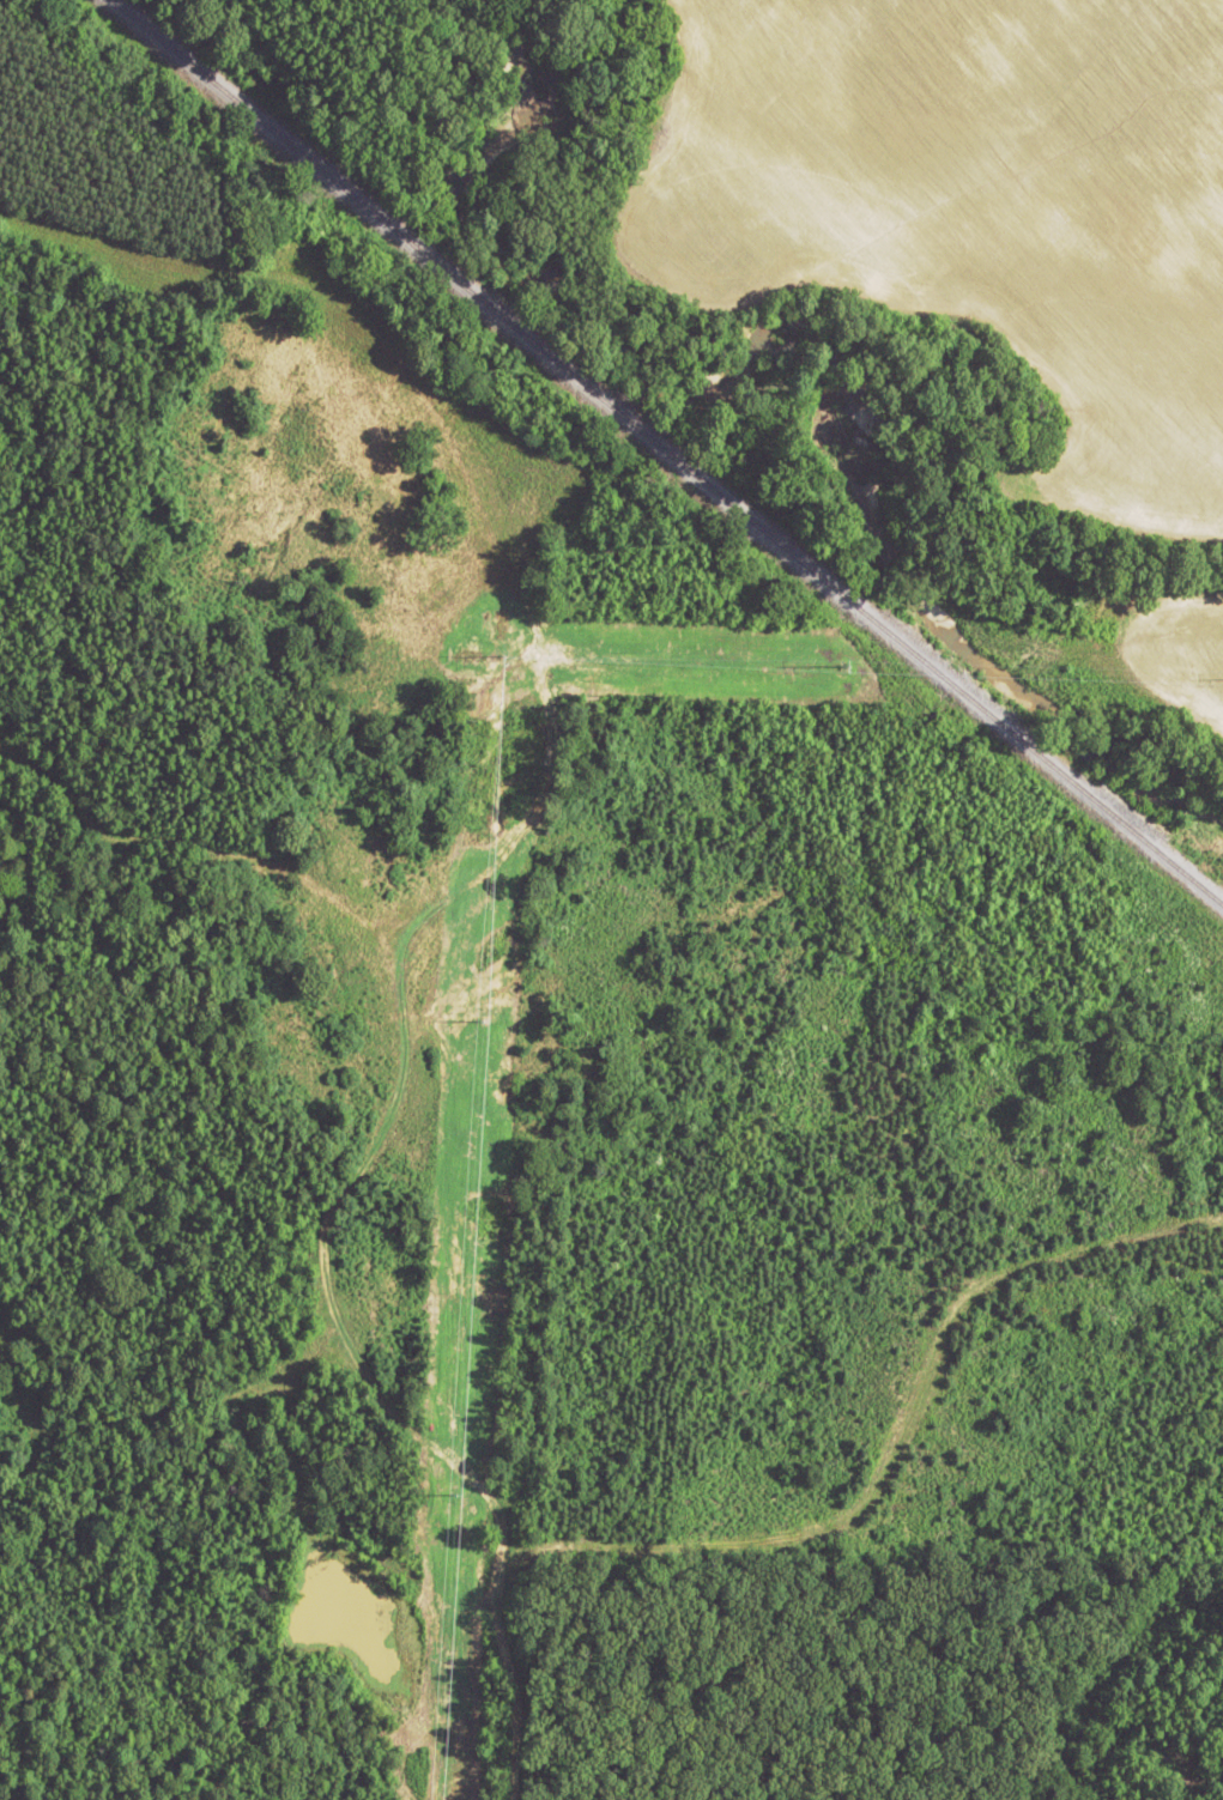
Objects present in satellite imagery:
railway: (668, 450)

